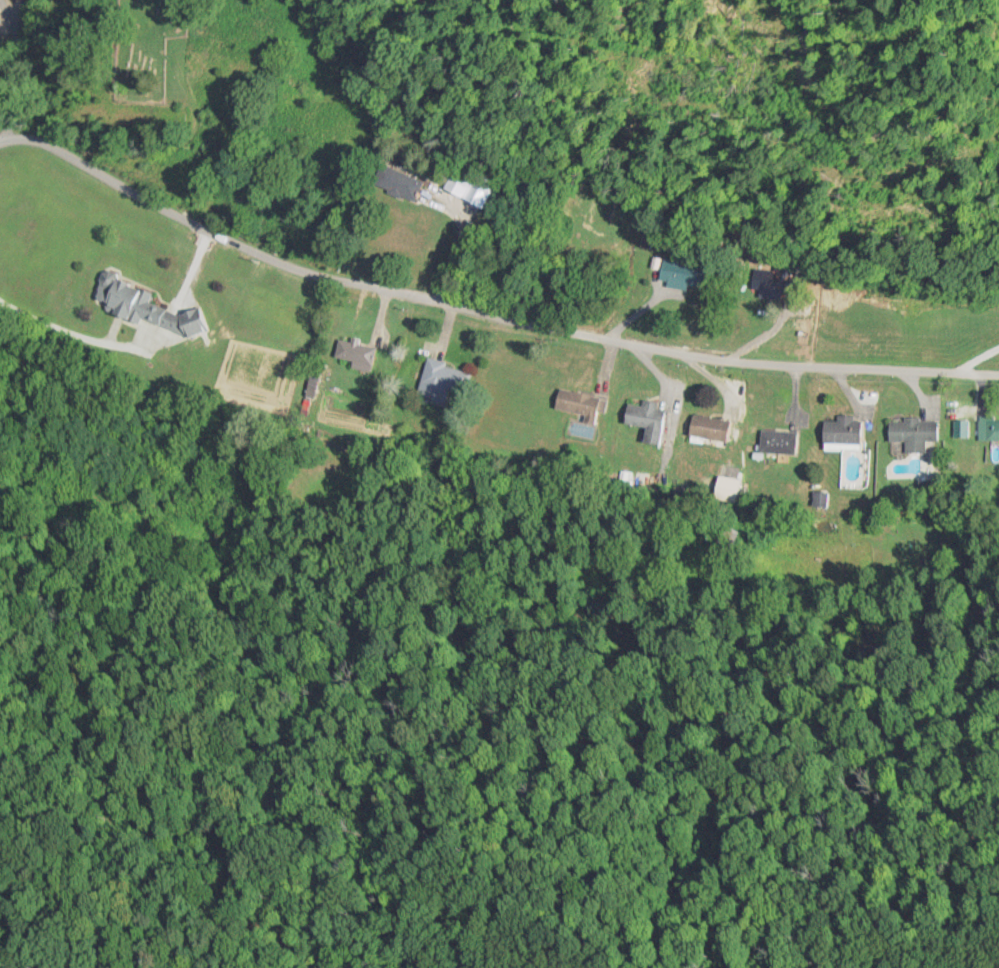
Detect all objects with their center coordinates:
building: (396, 183)
building: (477, 197)
building: (682, 274)
building: (145, 307)
road: (483, 313)
building: (354, 353)
building: (442, 383)
building: (580, 406)
building: (645, 420)
building: (708, 428)
building: (989, 429)
building: (842, 432)
building: (912, 433)
building: (776, 442)

